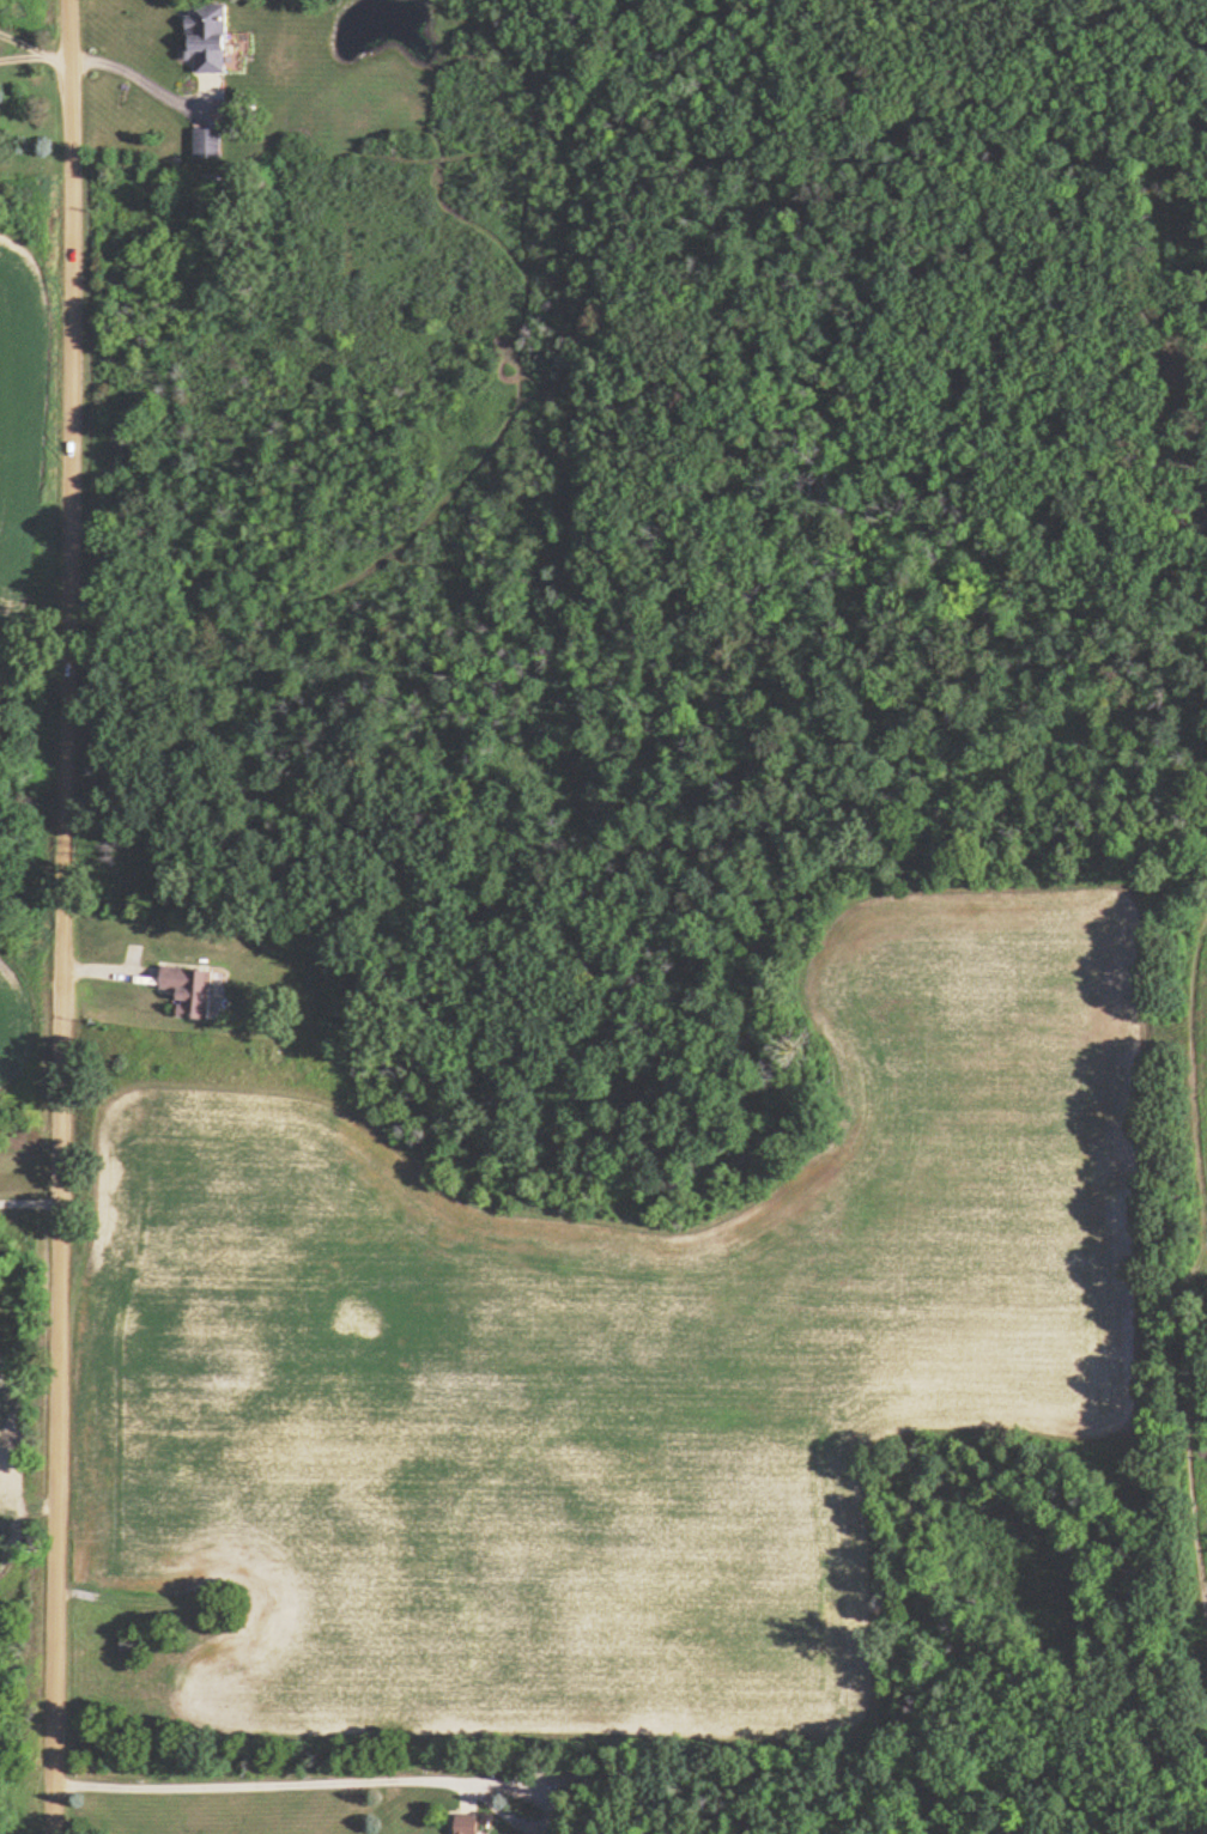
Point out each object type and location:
building: (207, 37)
road: (22, 41)
road: (51, 53)
road: (20, 56)
road: (126, 72)
building: (206, 142)
road: (62, 916)
building: (189, 990)
building: (127, 1642)
road: (259, 1783)
building: (463, 1822)

